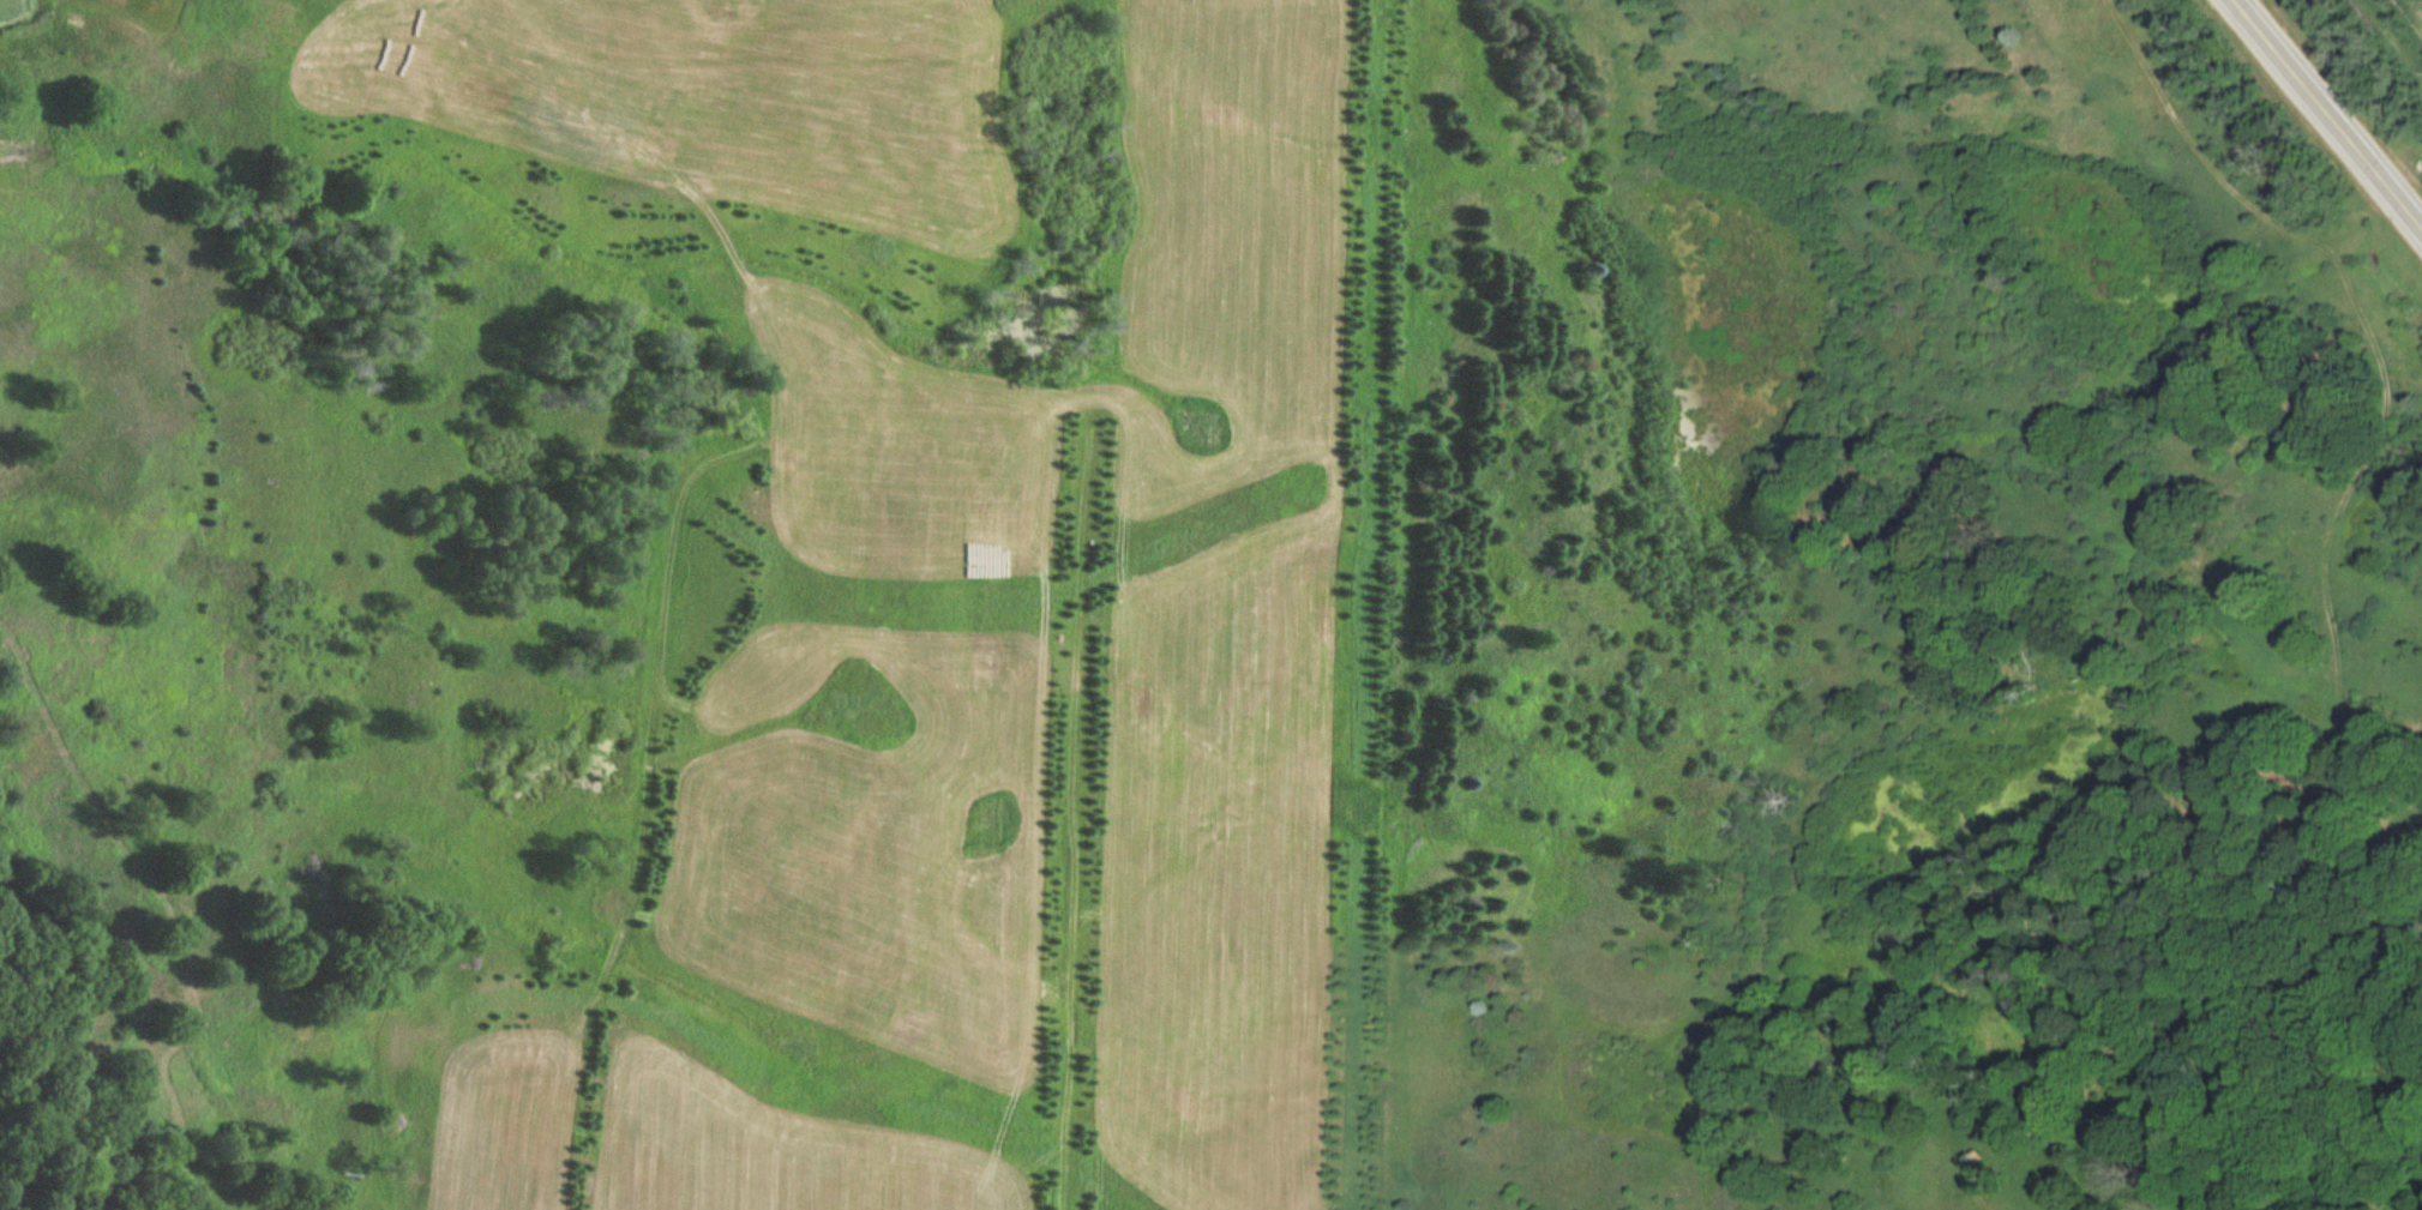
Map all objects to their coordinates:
road: (2333, 98)

